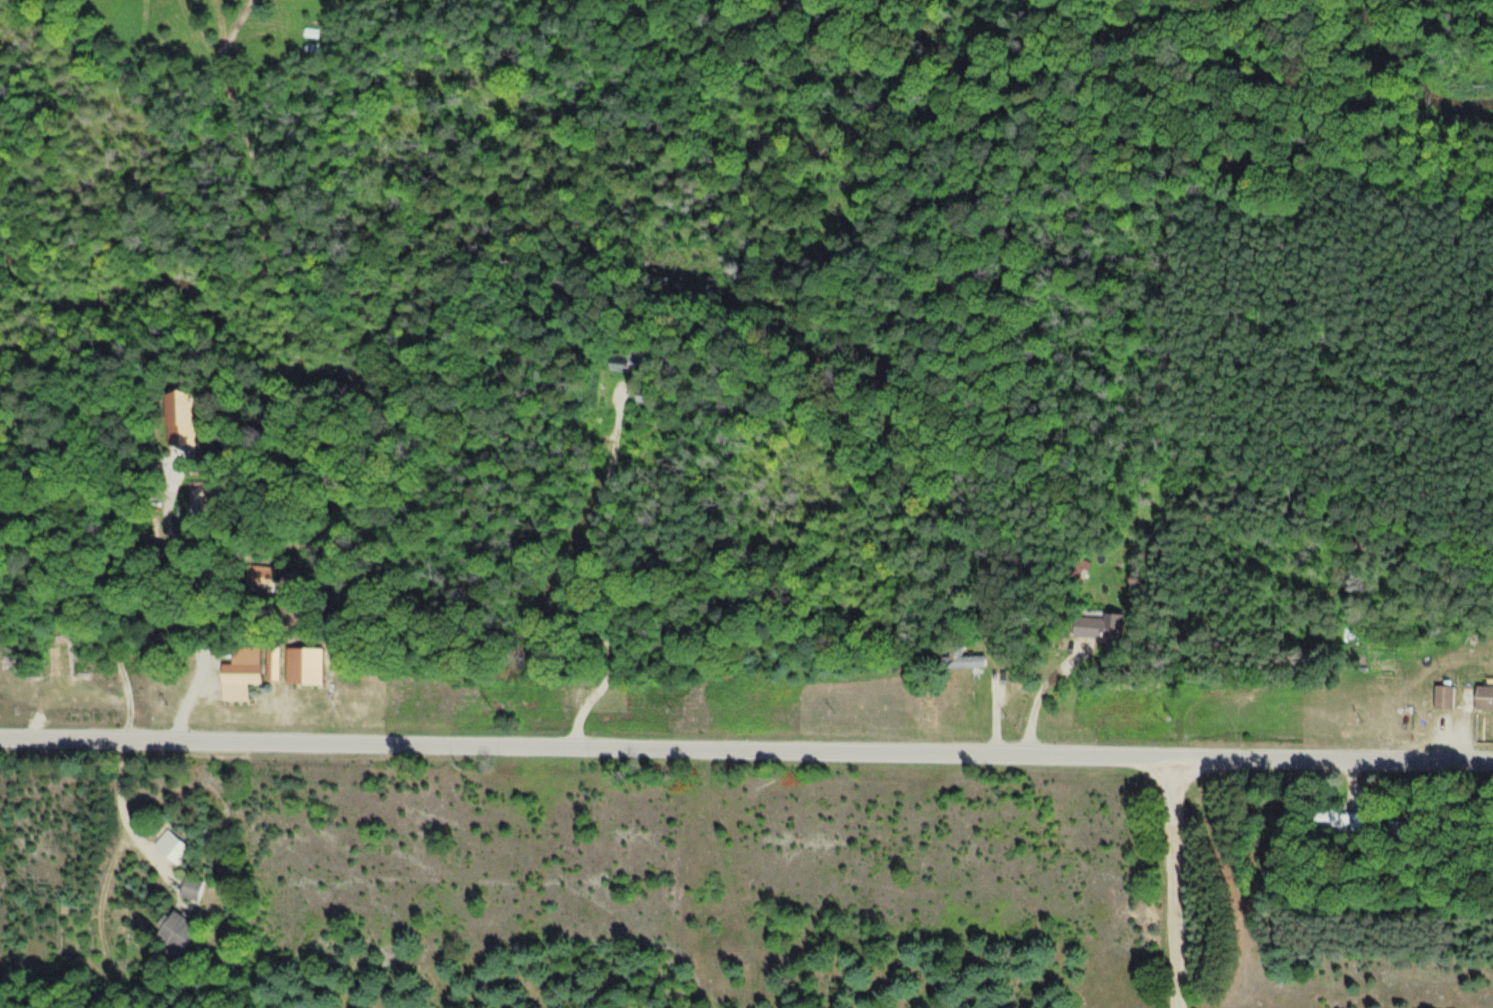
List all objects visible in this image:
building: (630, 360)
building: (181, 419)
building: (1099, 626)
building: (963, 660)
building: (243, 674)
building: (1445, 696)
building: (1484, 697)
road: (746, 752)
building: (1334, 820)
building: (1393, 829)
building: (170, 845)
road: (1176, 884)
building: (191, 887)
building: (176, 933)

